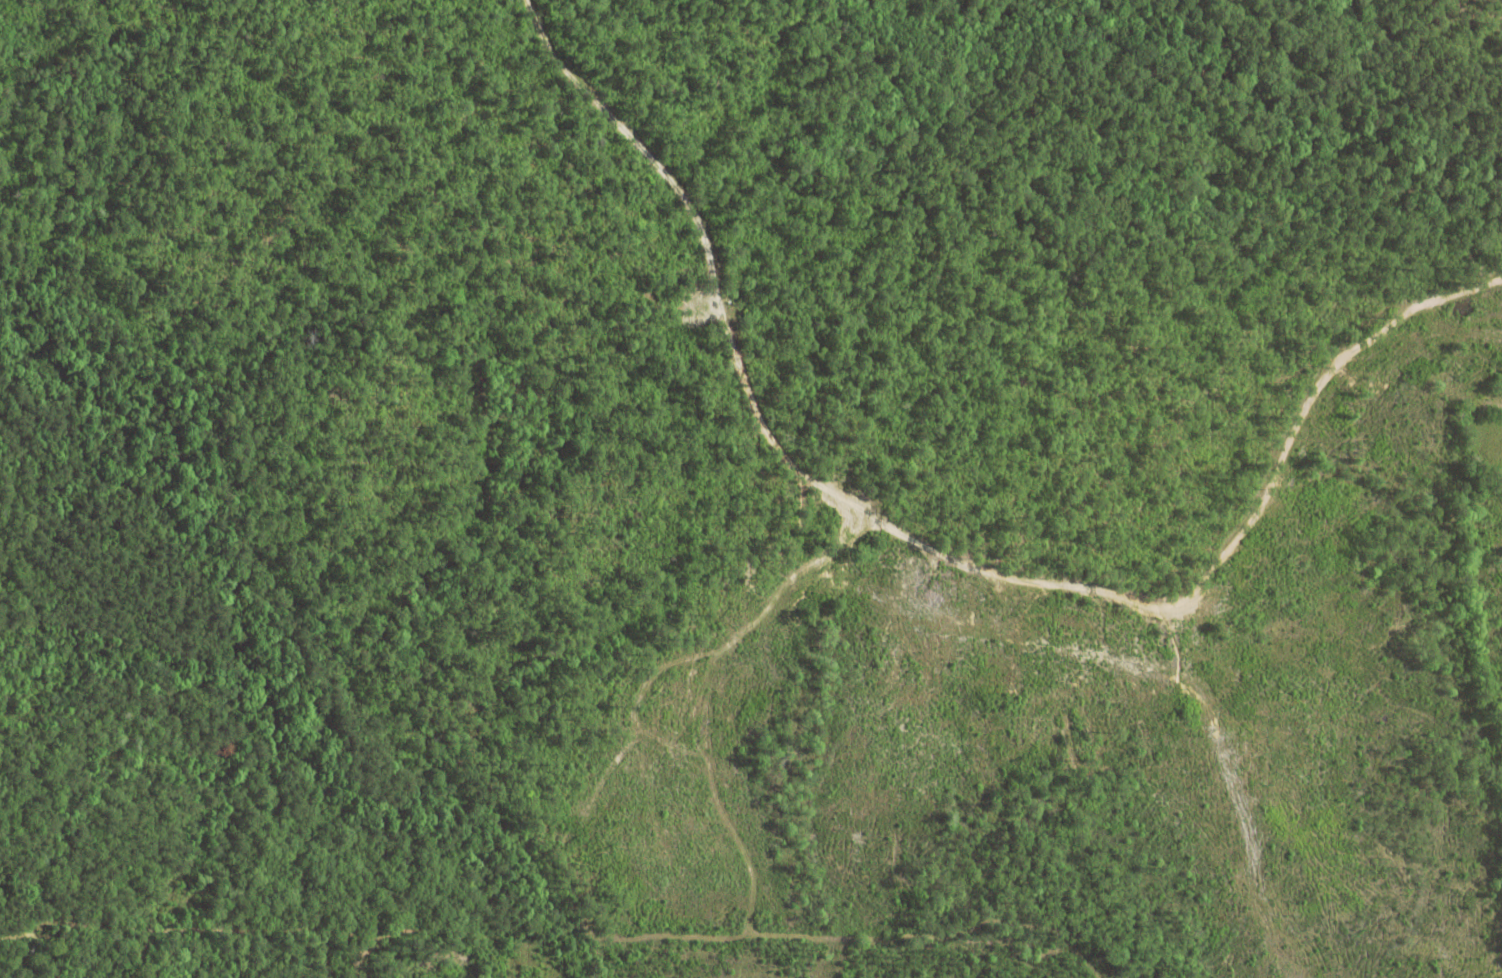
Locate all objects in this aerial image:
road: (544, 36)

